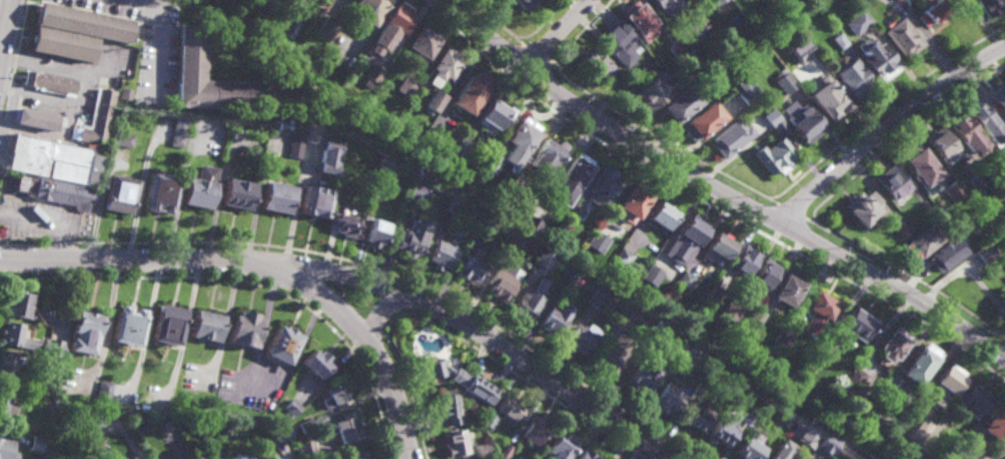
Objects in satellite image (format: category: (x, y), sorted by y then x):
building: (896, 0)
road: (139, 1)
building: (714, 3)
building: (524, 5)
building: (987, 5)
building: (666, 6)
road: (79, 11)
building: (929, 11)
building: (368, 12)
building: (856, 20)
road: (4, 21)
road: (499, 22)
building: (638, 22)
road: (22, 23)
building: (82, 23)
road: (543, 23)
building: (694, 26)
building: (289, 29)
building: (328, 29)
building: (391, 30)
road: (582, 30)
road: (1, 31)
road: (558, 34)
building: (900, 35)
building: (615, 37)
building: (836, 39)
building: (423, 44)
building: (61, 46)
building: (676, 47)
road: (154, 51)
building: (799, 52)
road: (540, 54)
building: (874, 56)
road: (16, 57)
building: (597, 64)
building: (443, 69)
building: (626, 71)
building: (640, 72)
building: (688, 73)
road: (12, 75)
building: (374, 75)
building: (851, 77)
building: (782, 82)
building: (220, 83)
building: (49, 84)
building: (407, 87)
road: (10, 89)
building: (744, 90)
building: (649, 92)
building: (470, 94)
building: (124, 95)
building: (997, 97)
building: (681, 102)
building: (827, 102)
building: (433, 105)
road: (6, 108)
road: (881, 108)
building: (493, 114)
building: (354, 115)
building: (770, 116)
building: (96, 118)
building: (701, 119)
building: (37, 120)
building: (983, 120)
building: (802, 122)
road: (7, 127)
building: (779, 127)
road: (885, 127)
building: (965, 131)
building: (178, 133)
building: (729, 136)
road: (898, 137)
building: (120, 138)
building: (519, 139)
road: (662, 140)
building: (296, 144)
building: (940, 144)
building: (461, 147)
road: (7, 153)
building: (546, 154)
building: (328, 155)
building: (772, 155)
building: (493, 158)
building: (53, 161)
building: (920, 165)
building: (421, 170)
building: (385, 173)
building: (991, 174)
building: (570, 177)
building: (428, 180)
building: (976, 180)
building: (890, 182)
building: (198, 186)
building: (603, 186)
building: (953, 190)
building: (157, 191)
road: (719, 191)
building: (117, 192)
building: (235, 192)
building: (417, 193)
building: (60, 194)
building: (275, 194)
building: (509, 195)
building: (315, 200)
road: (761, 200)
building: (633, 201)
road: (296, 202)
building: (453, 205)
road: (703, 205)
building: (861, 207)
building: (575, 210)
road: (754, 210)
road: (792, 213)
building: (662, 214)
road: (747, 222)
building: (345, 224)
building: (529, 224)
building: (900, 226)
building: (485, 228)
building: (601, 231)
road: (816, 231)
building: (376, 233)
building: (412, 236)
road: (27, 239)
building: (517, 239)
building: (686, 239)
road: (809, 240)
building: (923, 240)
road: (64, 242)
building: (596, 242)
building: (718, 247)
building: (946, 252)
building: (984, 252)
road: (802, 253)
building: (441, 255)
building: (623, 257)
building: (545, 258)
building: (743, 261)
road: (258, 267)
building: (471, 271)
building: (651, 274)
building: (763, 274)
building: (569, 277)
road: (907, 277)
building: (685, 279)
road: (407, 281)
building: (502, 282)
road: (244, 283)
road: (321, 284)
building: (786, 288)
building: (1004, 288)
building: (1004, 288)
building: (714, 293)
building: (596, 298)
road: (409, 299)
building: (530, 300)
building: (22, 305)
building: (1001, 306)
building: (629, 311)
building: (817, 312)
building: (730, 313)
building: (754, 318)
road: (375, 321)
building: (553, 322)
building: (166, 324)
building: (853, 324)
building: (126, 325)
building: (204, 325)
road: (466, 326)
road: (147, 328)
road: (185, 329)
building: (243, 329)
road: (262, 331)
building: (83, 332)
building: (664, 333)
building: (16, 336)
building: (581, 338)
building: (781, 338)
road: (457, 340)
building: (281, 344)
building: (890, 344)
road: (369, 345)
building: (53, 348)
building: (685, 352)
building: (613, 353)
building: (814, 358)
building: (315, 363)
building: (7, 368)
building: (915, 369)
building: (643, 377)
building: (854, 378)
building: (462, 381)
building: (945, 383)
building: (267, 391)
building: (104, 393)
building: (144, 395)
building: (335, 396)
building: (670, 397)
building: (972, 400)
building: (5, 407)
building: (291, 407)
building: (449, 408)
building: (509, 409)
building: (782, 417)
building: (93, 418)
building: (697, 418)
building: (319, 420)
building: (489, 420)
building: (743, 422)
building: (995, 423)
building: (166, 426)
building: (306, 426)
building: (204, 428)
building: (346, 428)
building: (722, 431)
building: (916, 431)
building: (278, 432)
building: (534, 432)
building: (806, 439)
building: (36, 443)
building: (456, 444)
building: (824, 444)
building: (480, 447)
building: (561, 447)
building: (748, 447)
building: (871, 447)
building: (6, 450)
building: (306, 450)
building: (505, 452)
building: (979, 454)
building: (587, 455)
building: (353, 456)
building: (934, 456)
building: (275, 457)
building: (771, 457)
building: (136, 458)
building: (236, 458)
building: (249, 458)
building: (281, 458)
building: (847, 458)

